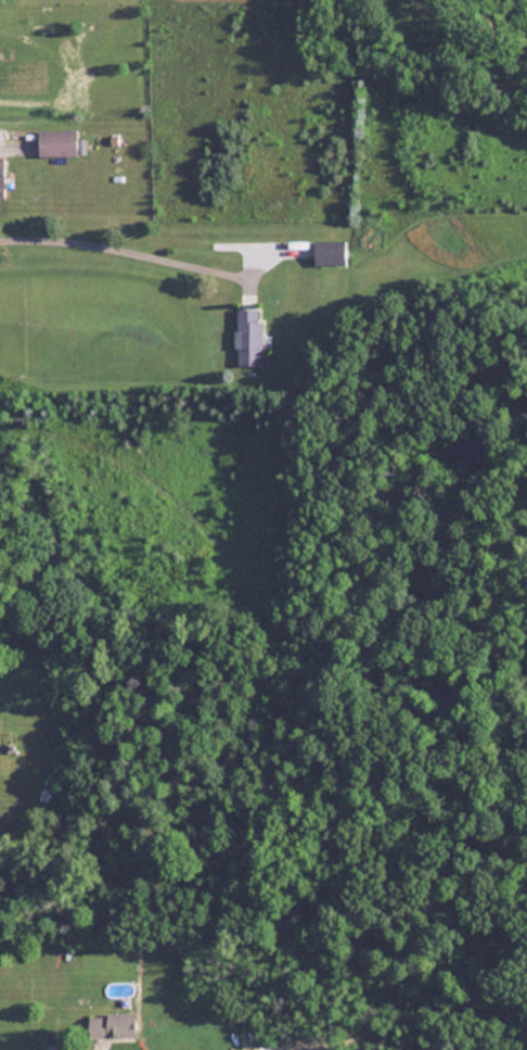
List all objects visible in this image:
building: (56, 142)
building: (1, 177)
building: (329, 252)
building: (248, 336)
building: (108, 1026)
road: (28, 1046)

